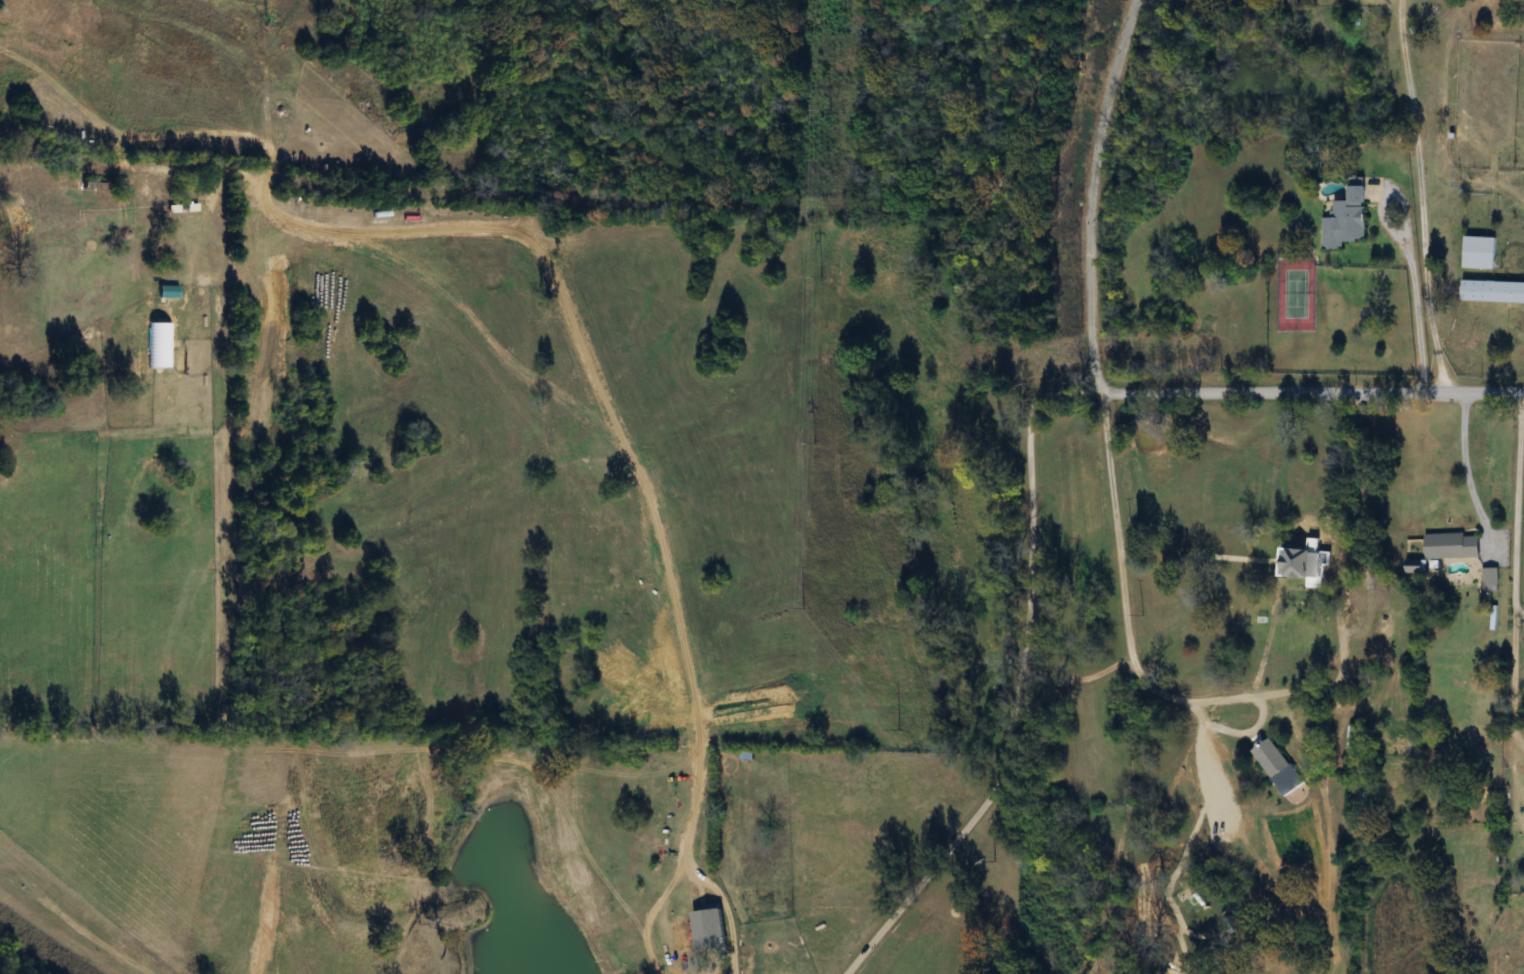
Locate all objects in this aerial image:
road: (1098, 190)
road: (1415, 194)
building: (1348, 220)
road: (1404, 244)
building: (1481, 252)
building: (1493, 291)
road: (1026, 469)
road: (1464, 472)
building: (1454, 546)
building: (1306, 564)
road: (1512, 574)
building: (1492, 580)
road: (1517, 608)
building: (1383, 626)
road: (1129, 651)
building: (1358, 740)
building: (1278, 765)
building: (650, 846)
building: (700, 947)

